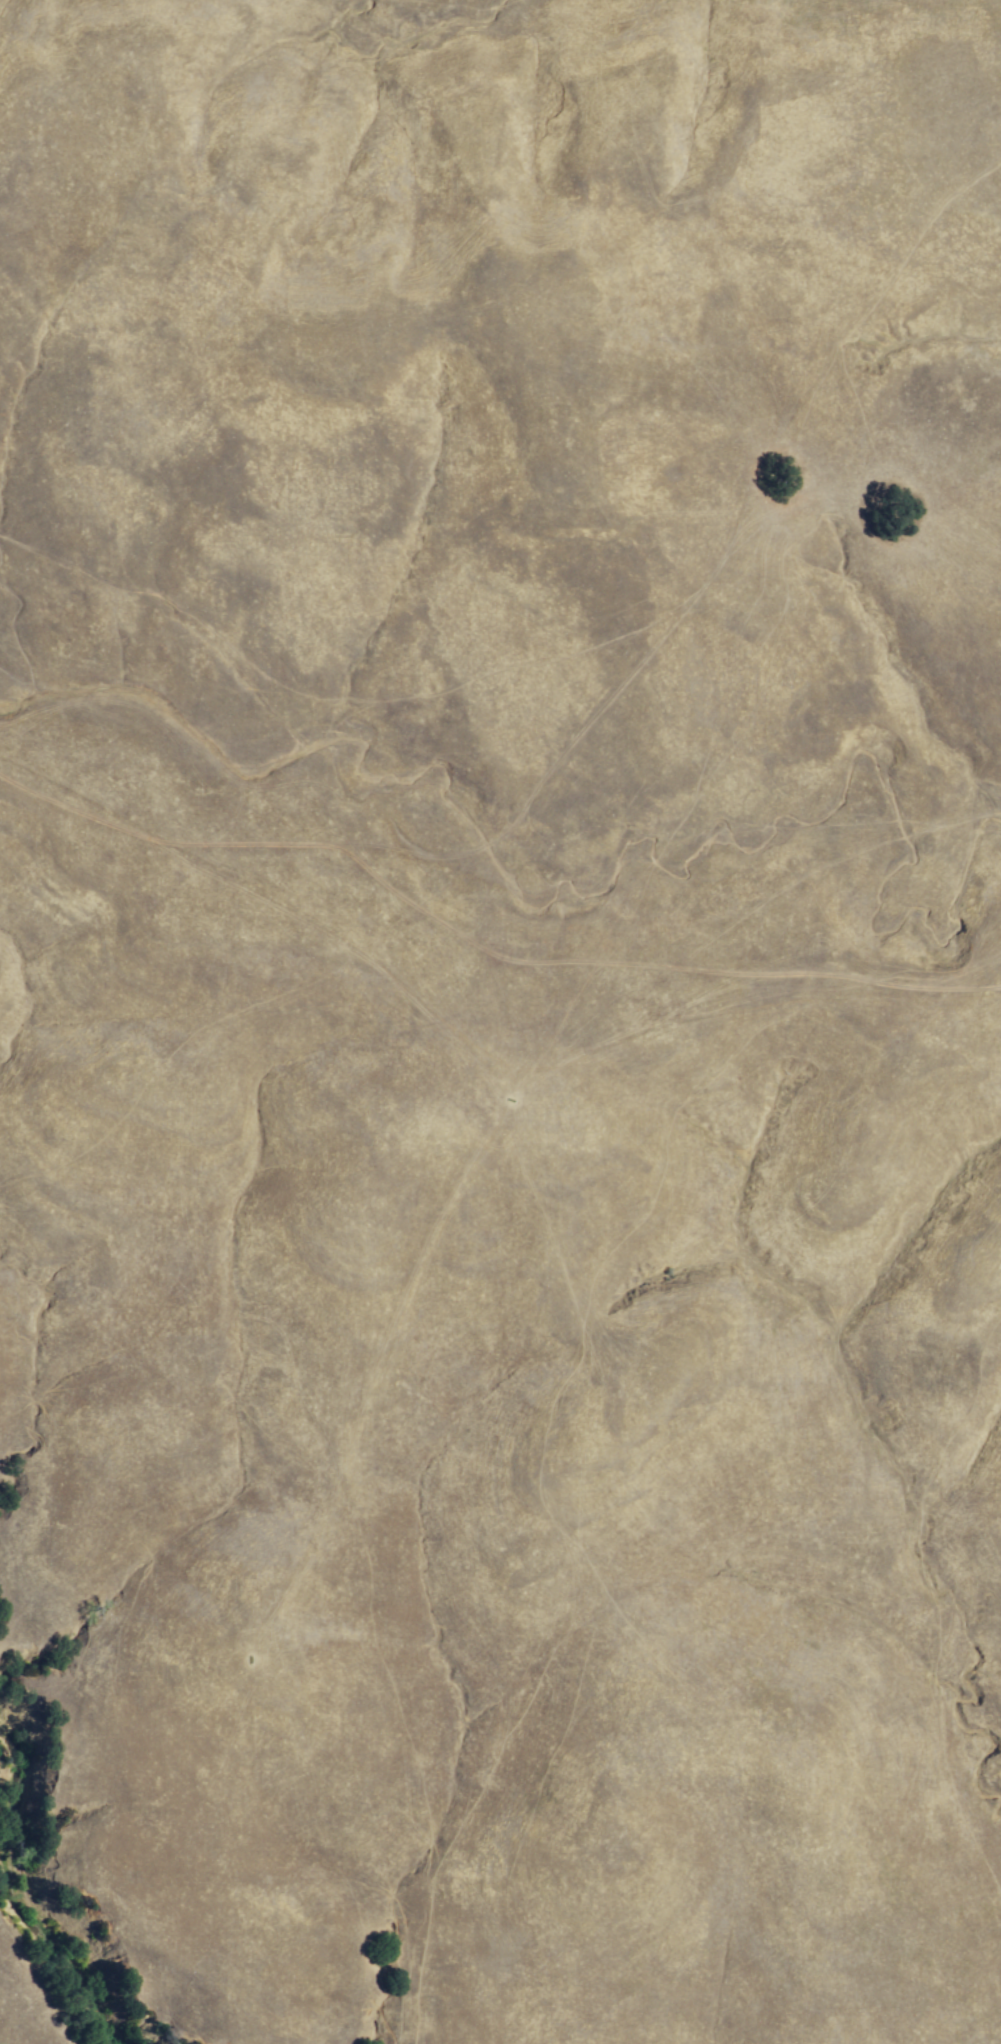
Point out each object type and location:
road: (480, 945)
river: (7, 1783)
river: (58, 1961)

